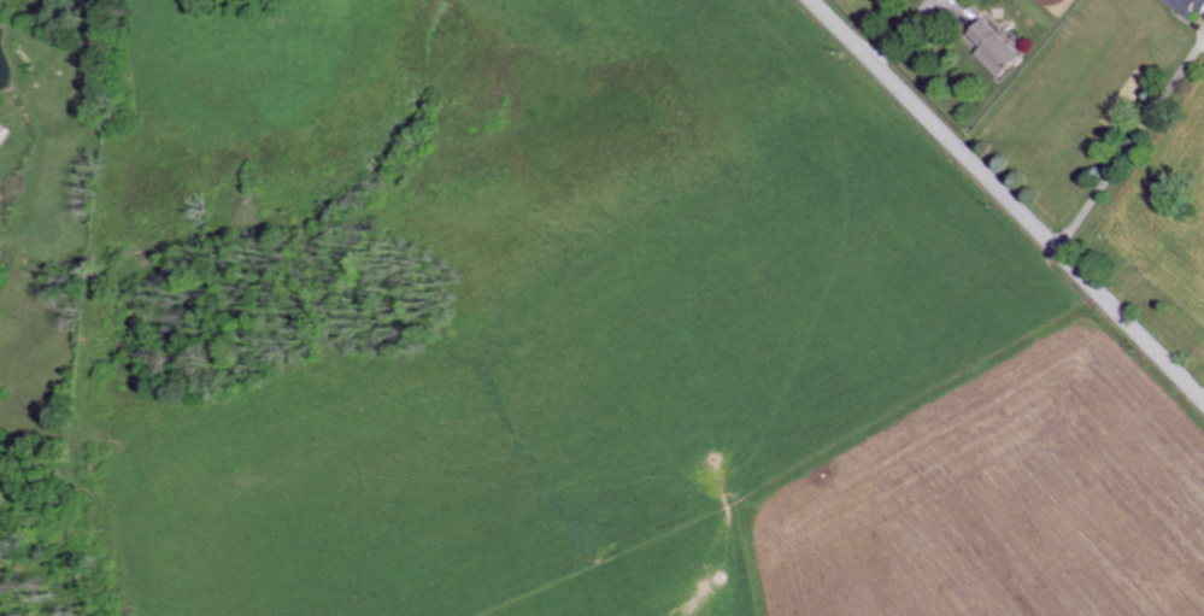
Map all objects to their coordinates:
building: (1191, 6)
building: (999, 48)
road: (1129, 151)
road: (1005, 200)

